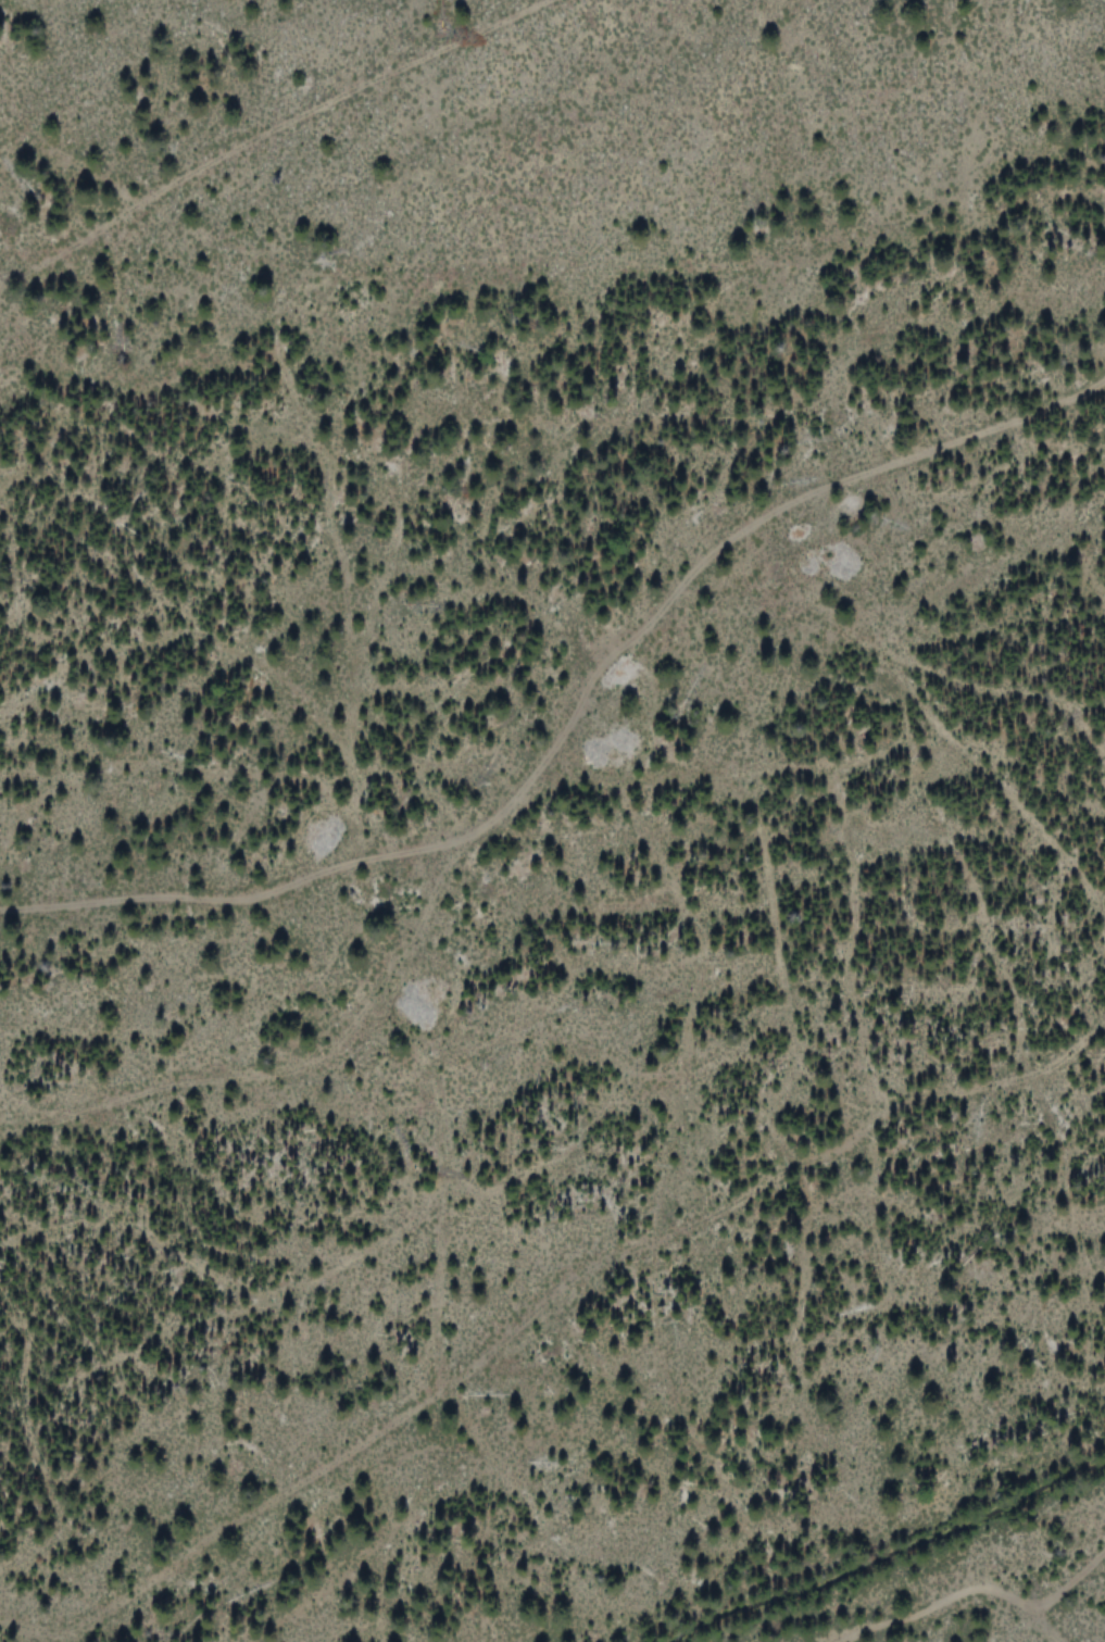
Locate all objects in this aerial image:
road: (1095, 1637)

